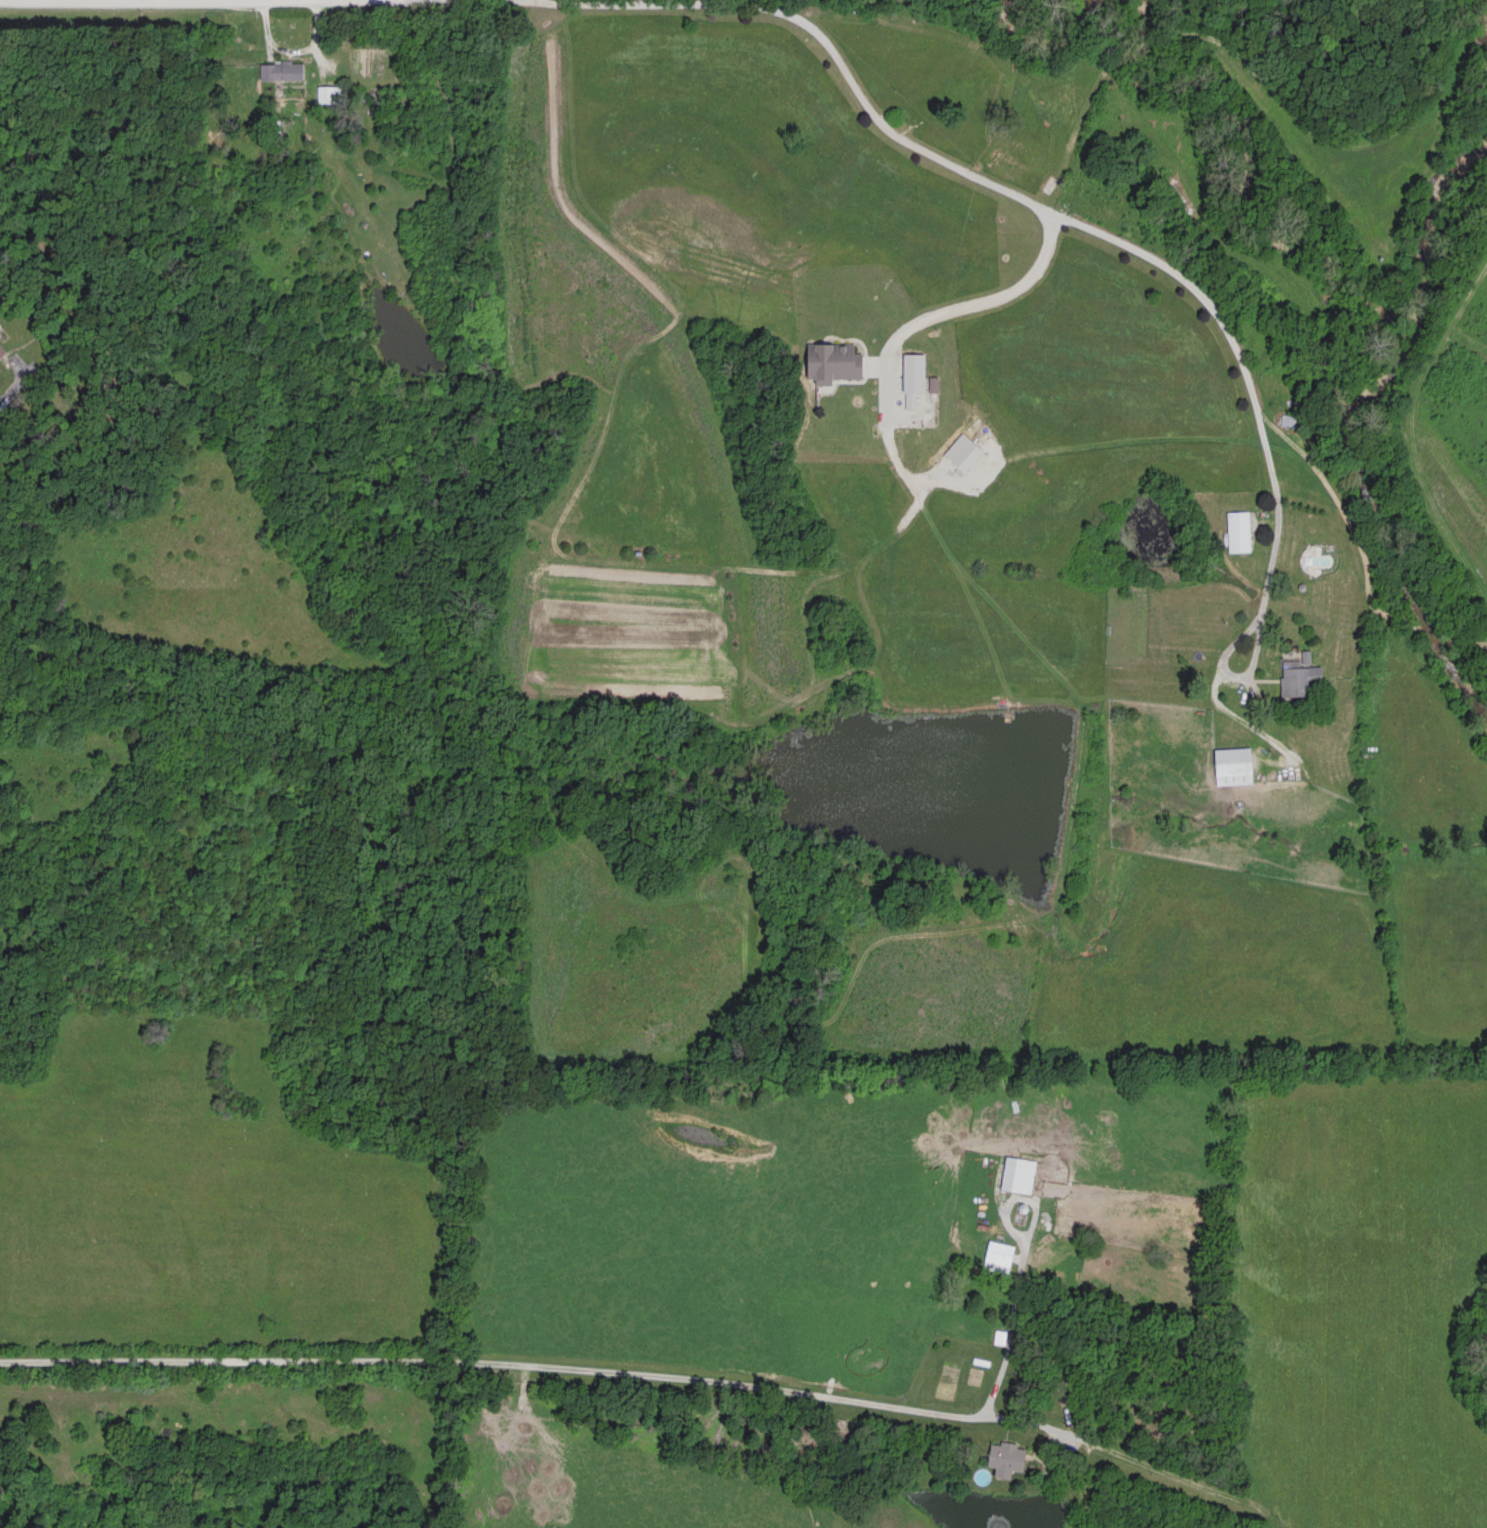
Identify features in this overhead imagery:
road: (224, 1)
building: (282, 68)
building: (330, 92)
road: (1039, 207)
road: (968, 303)
building: (3, 349)
building: (839, 359)
building: (917, 375)
road: (18, 390)
building: (1290, 418)
building: (1239, 529)
road: (1224, 648)
building: (1303, 674)
road: (1239, 717)
building: (1235, 764)
building: (1021, 1172)
building: (1002, 1250)
road: (1012, 1335)
road: (651, 1377)
building: (1009, 1455)

